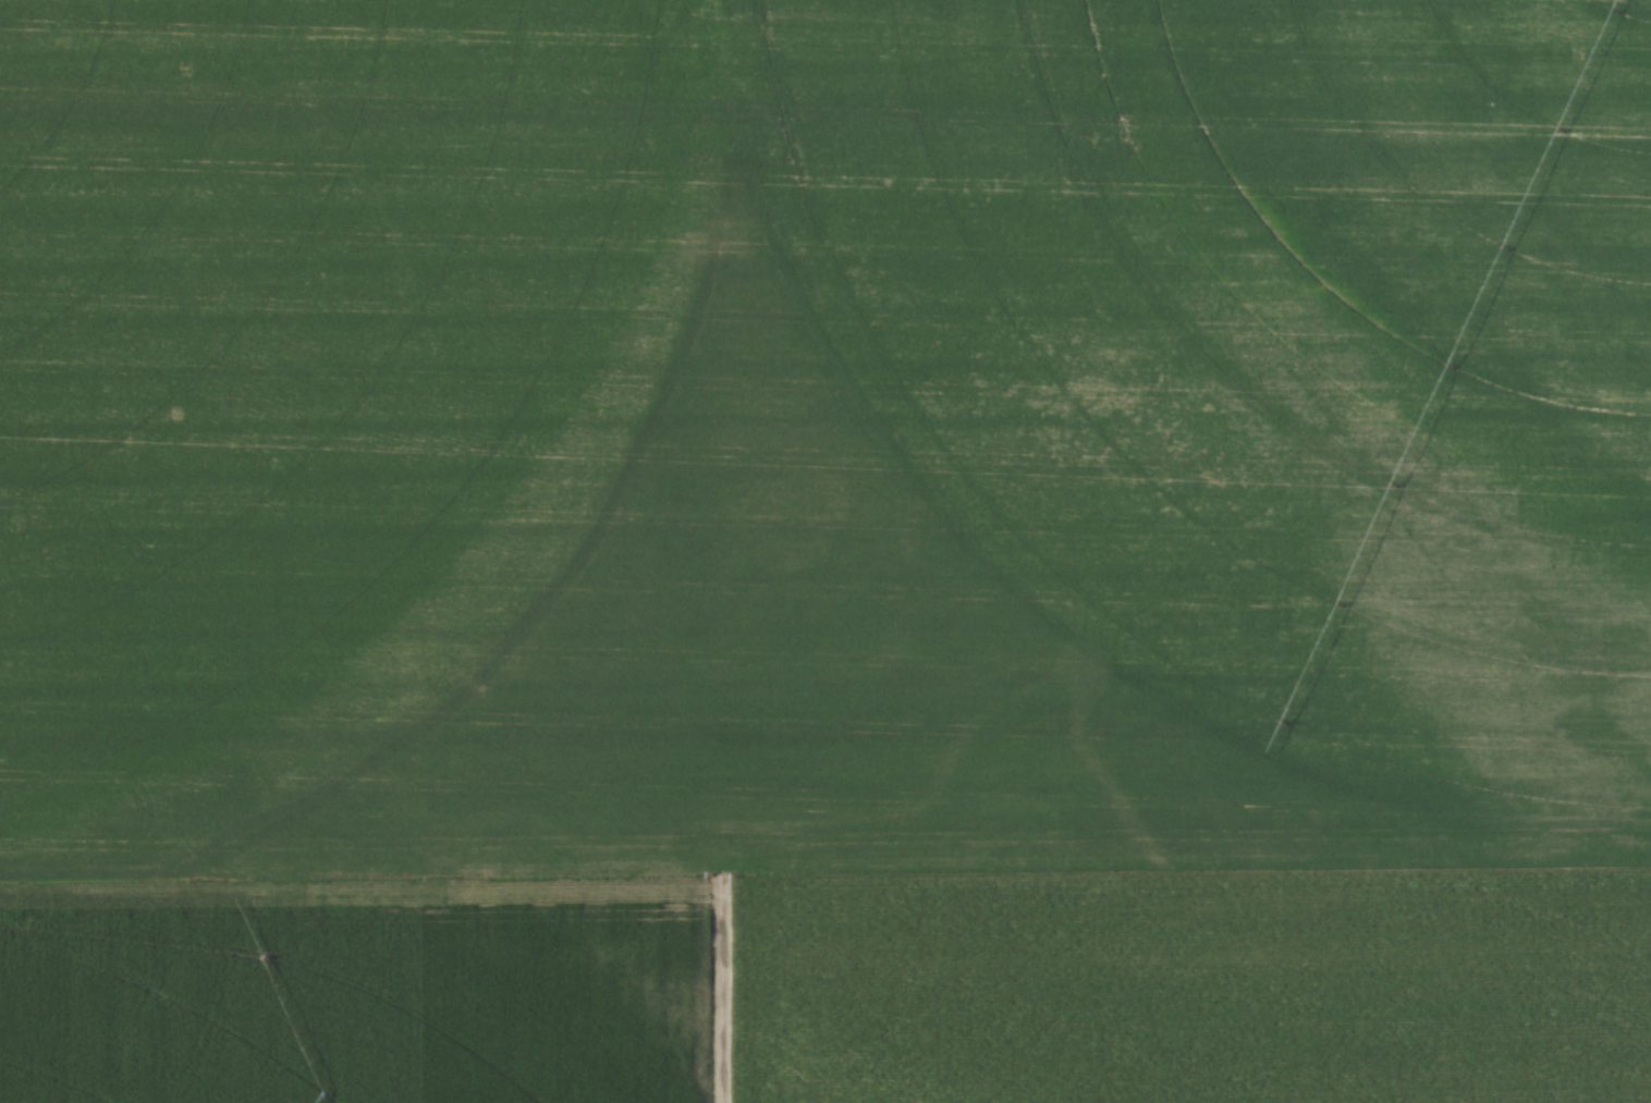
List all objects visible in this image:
crop: (825, 551)
road: (710, 991)

